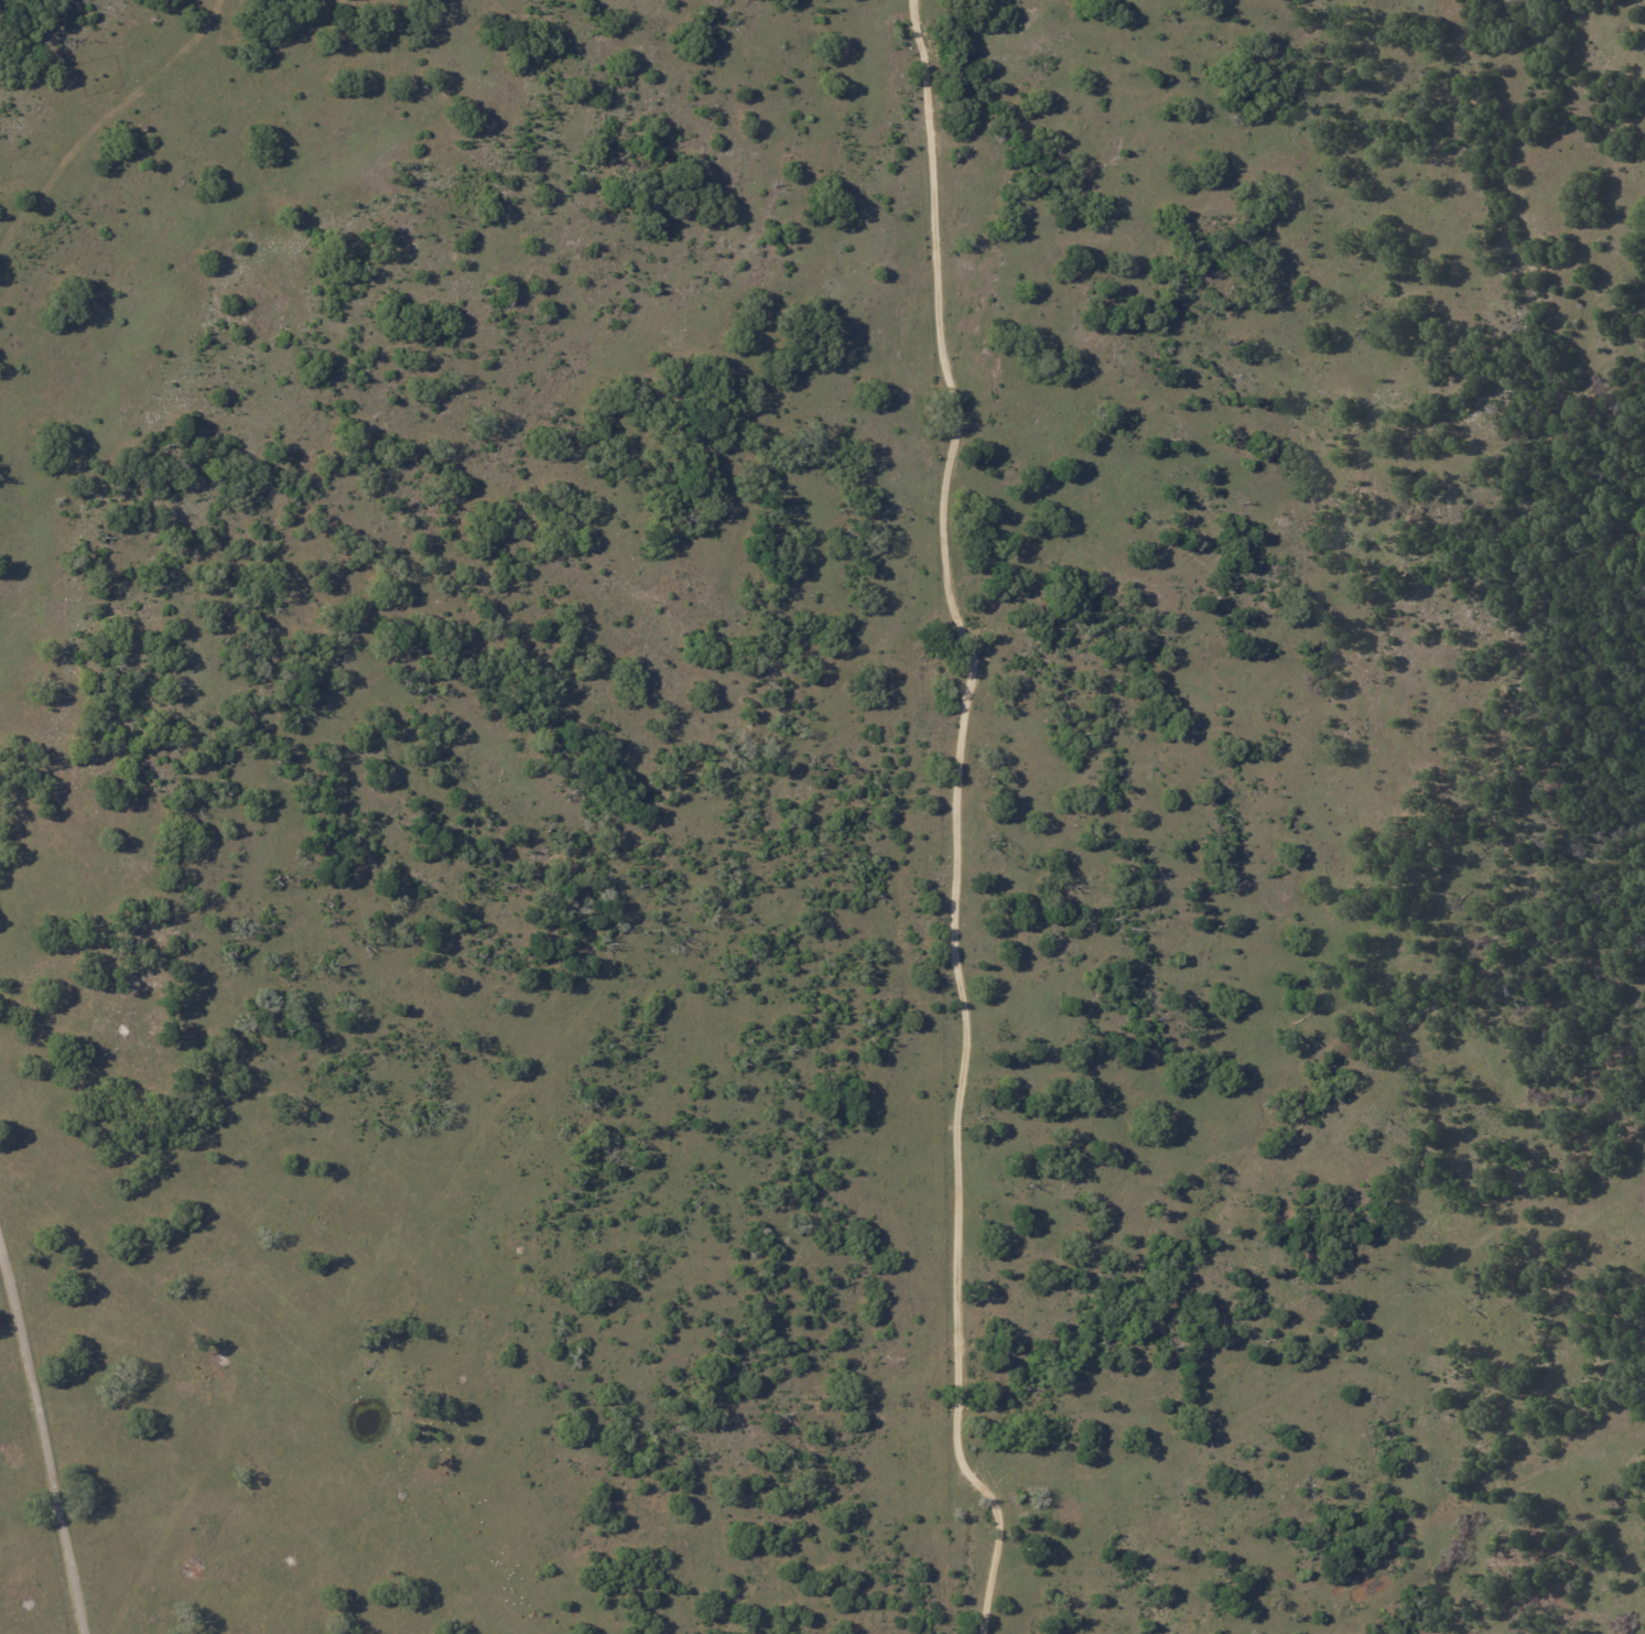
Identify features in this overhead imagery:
road: (955, 820)
road: (43, 1452)

